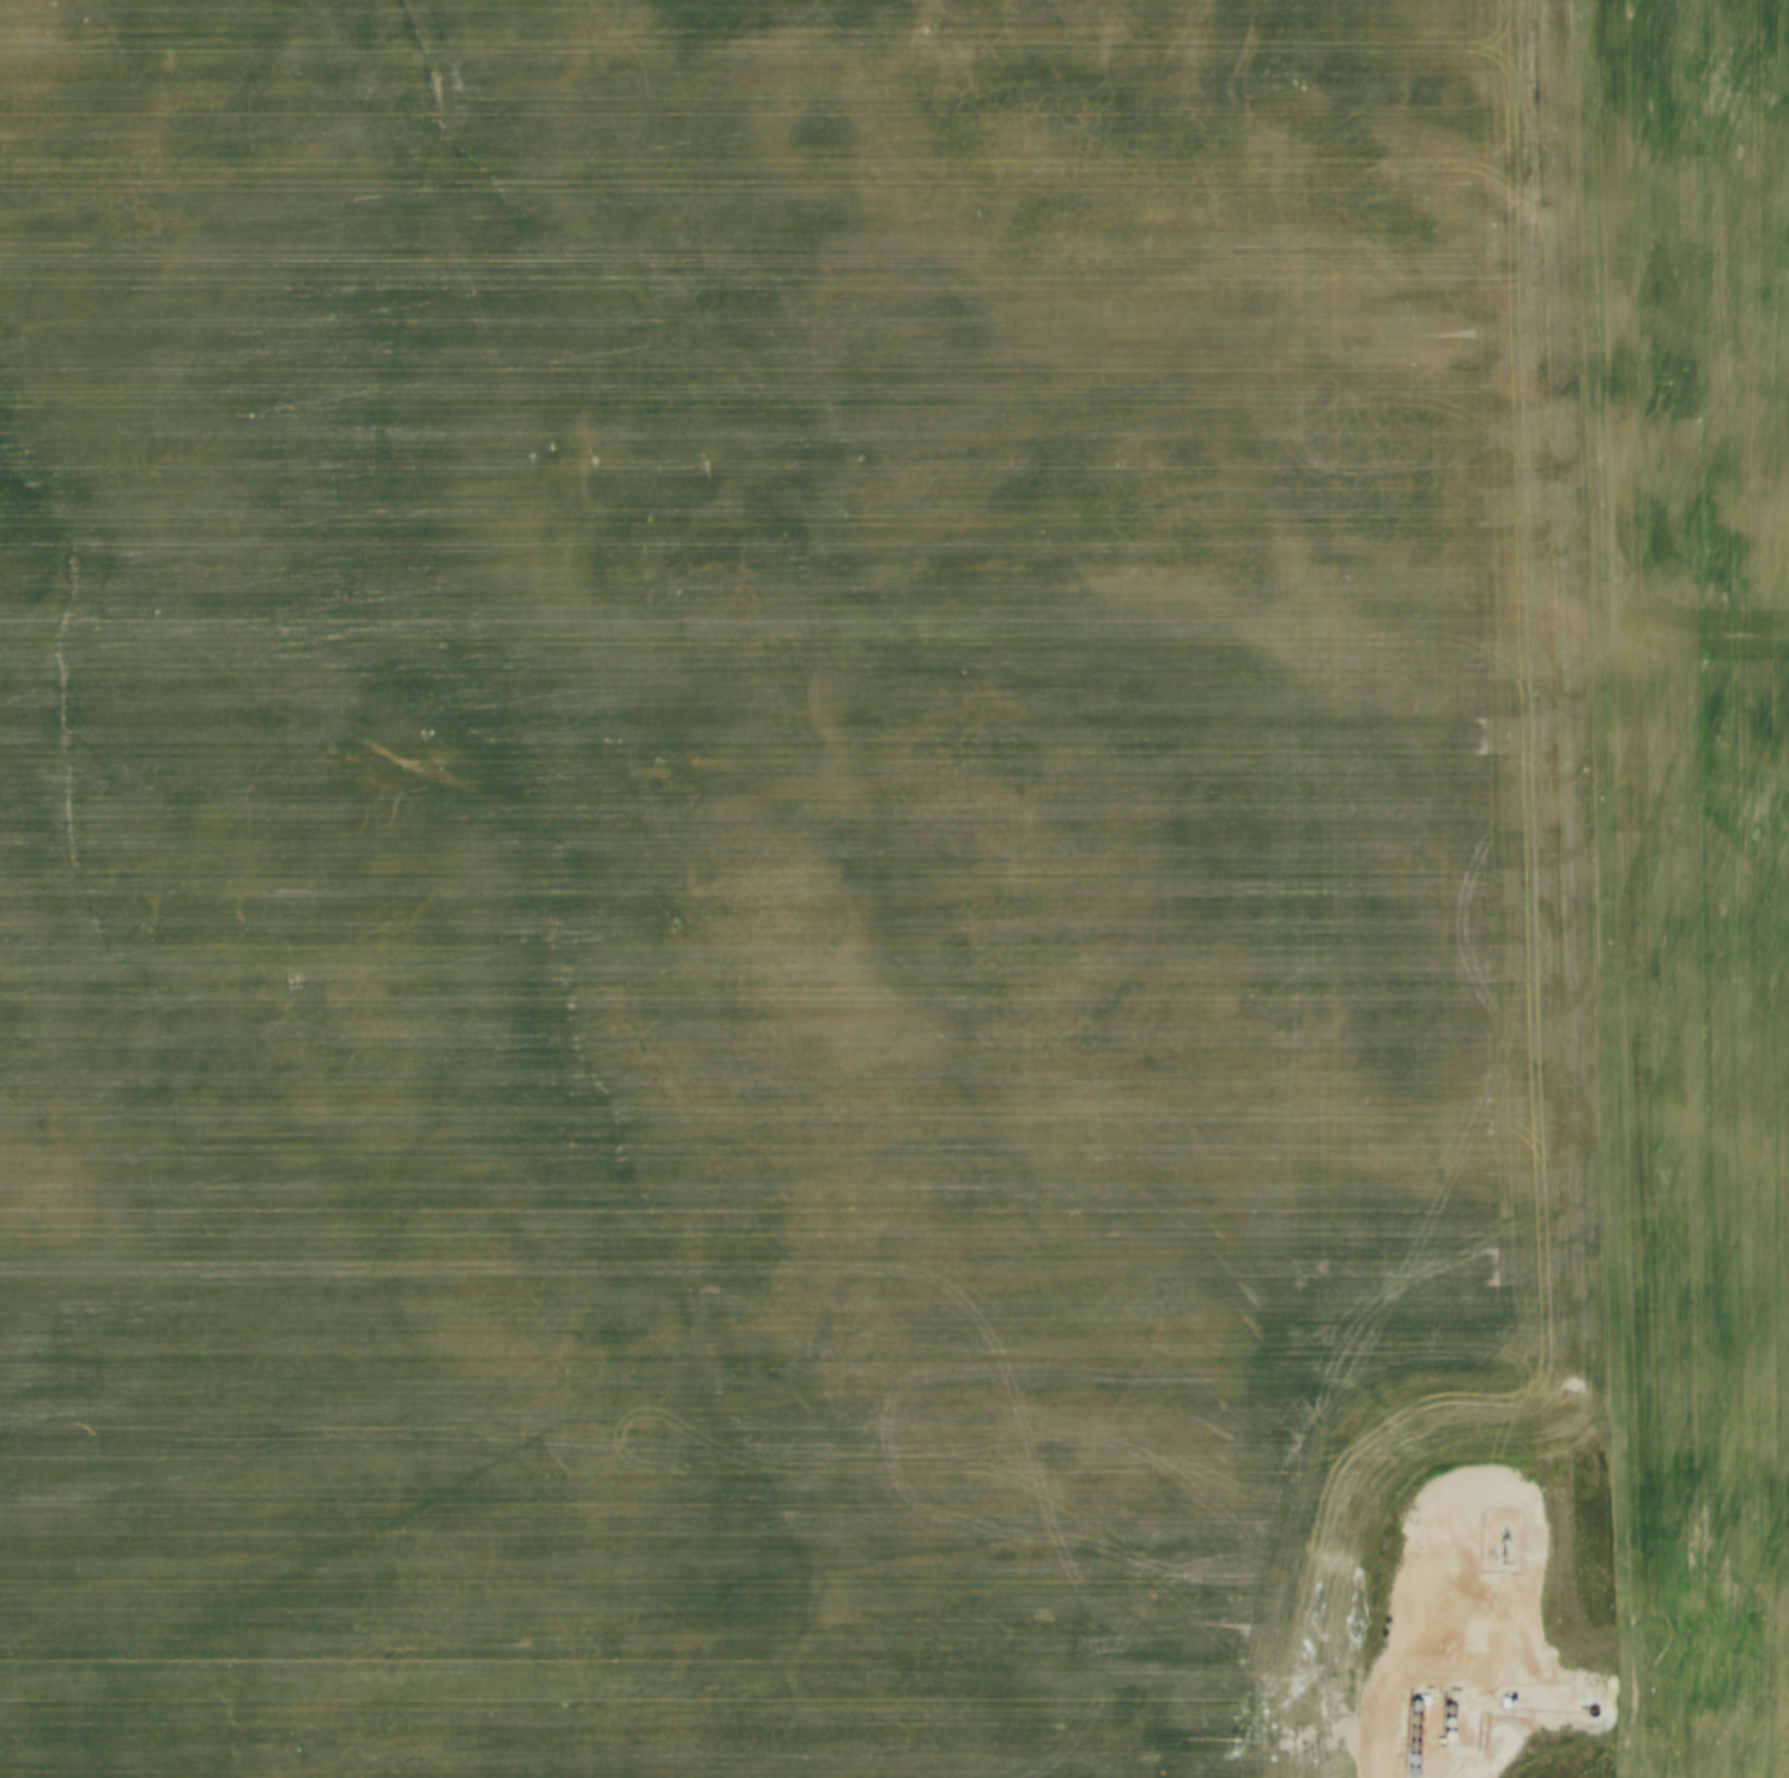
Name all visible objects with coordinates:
road: (1407, 1681)
building: (1415, 1749)

